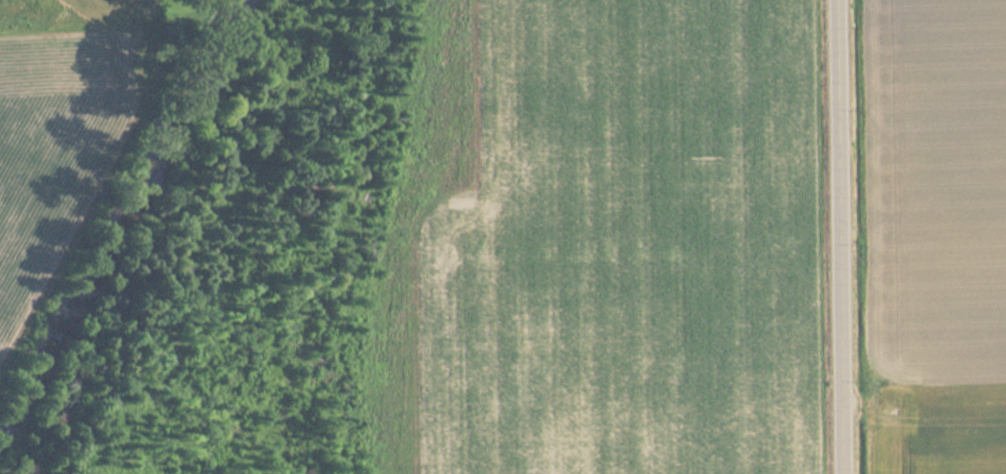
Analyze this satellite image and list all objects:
river: (116, 227)
road: (841, 237)

